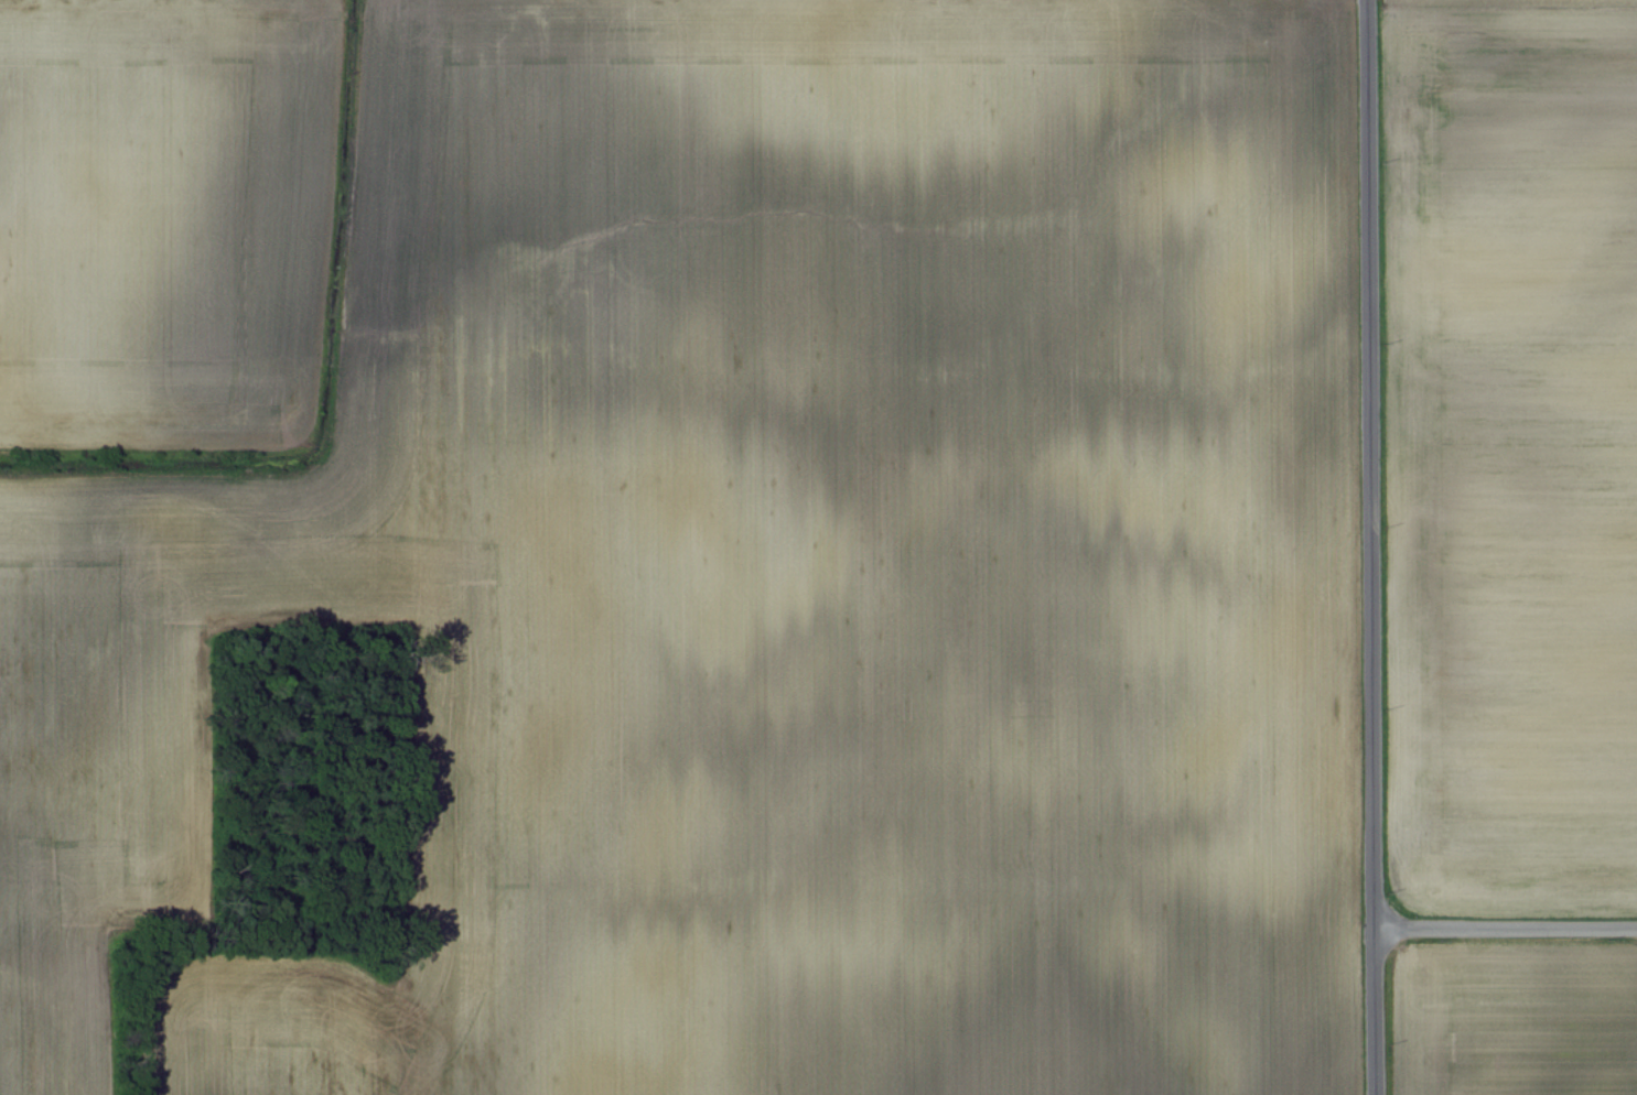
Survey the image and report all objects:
road: (1371, 546)
road: (1507, 930)

